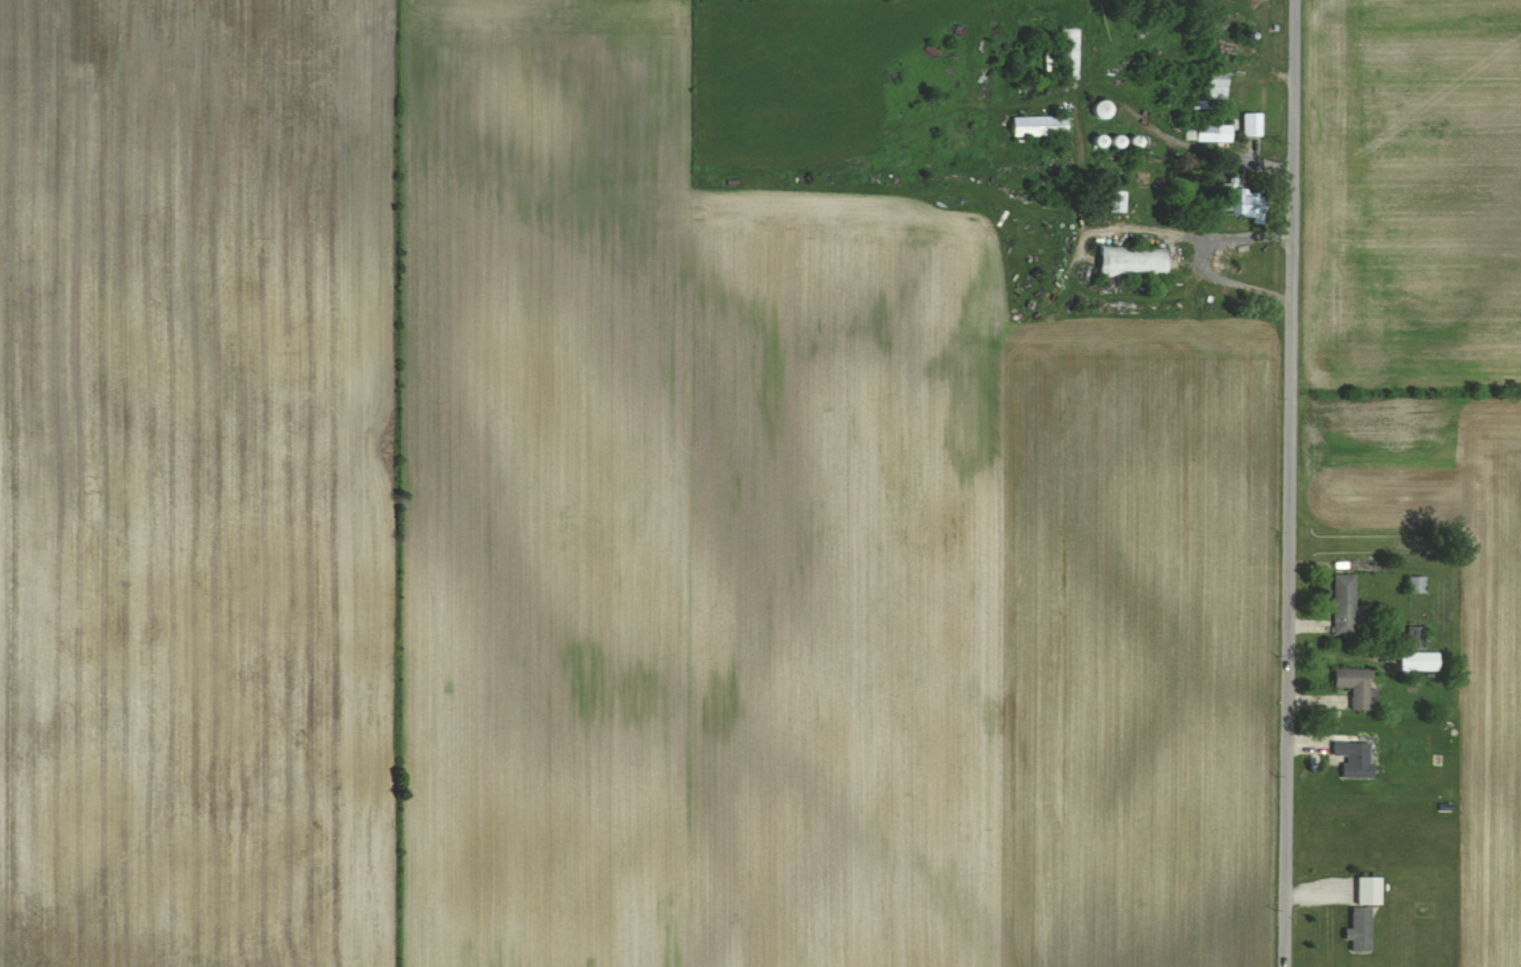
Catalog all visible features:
building: (1069, 54)
building: (1216, 86)
building: (1102, 110)
building: (1251, 125)
building: (1038, 126)
building: (1207, 133)
building: (1117, 202)
building: (1238, 202)
building: (1132, 263)
road: (1289, 483)
building: (1417, 585)
building: (1345, 607)
building: (1416, 637)
building: (1419, 661)
building: (1357, 687)
building: (1353, 758)
building: (1368, 892)
building: (1359, 931)

